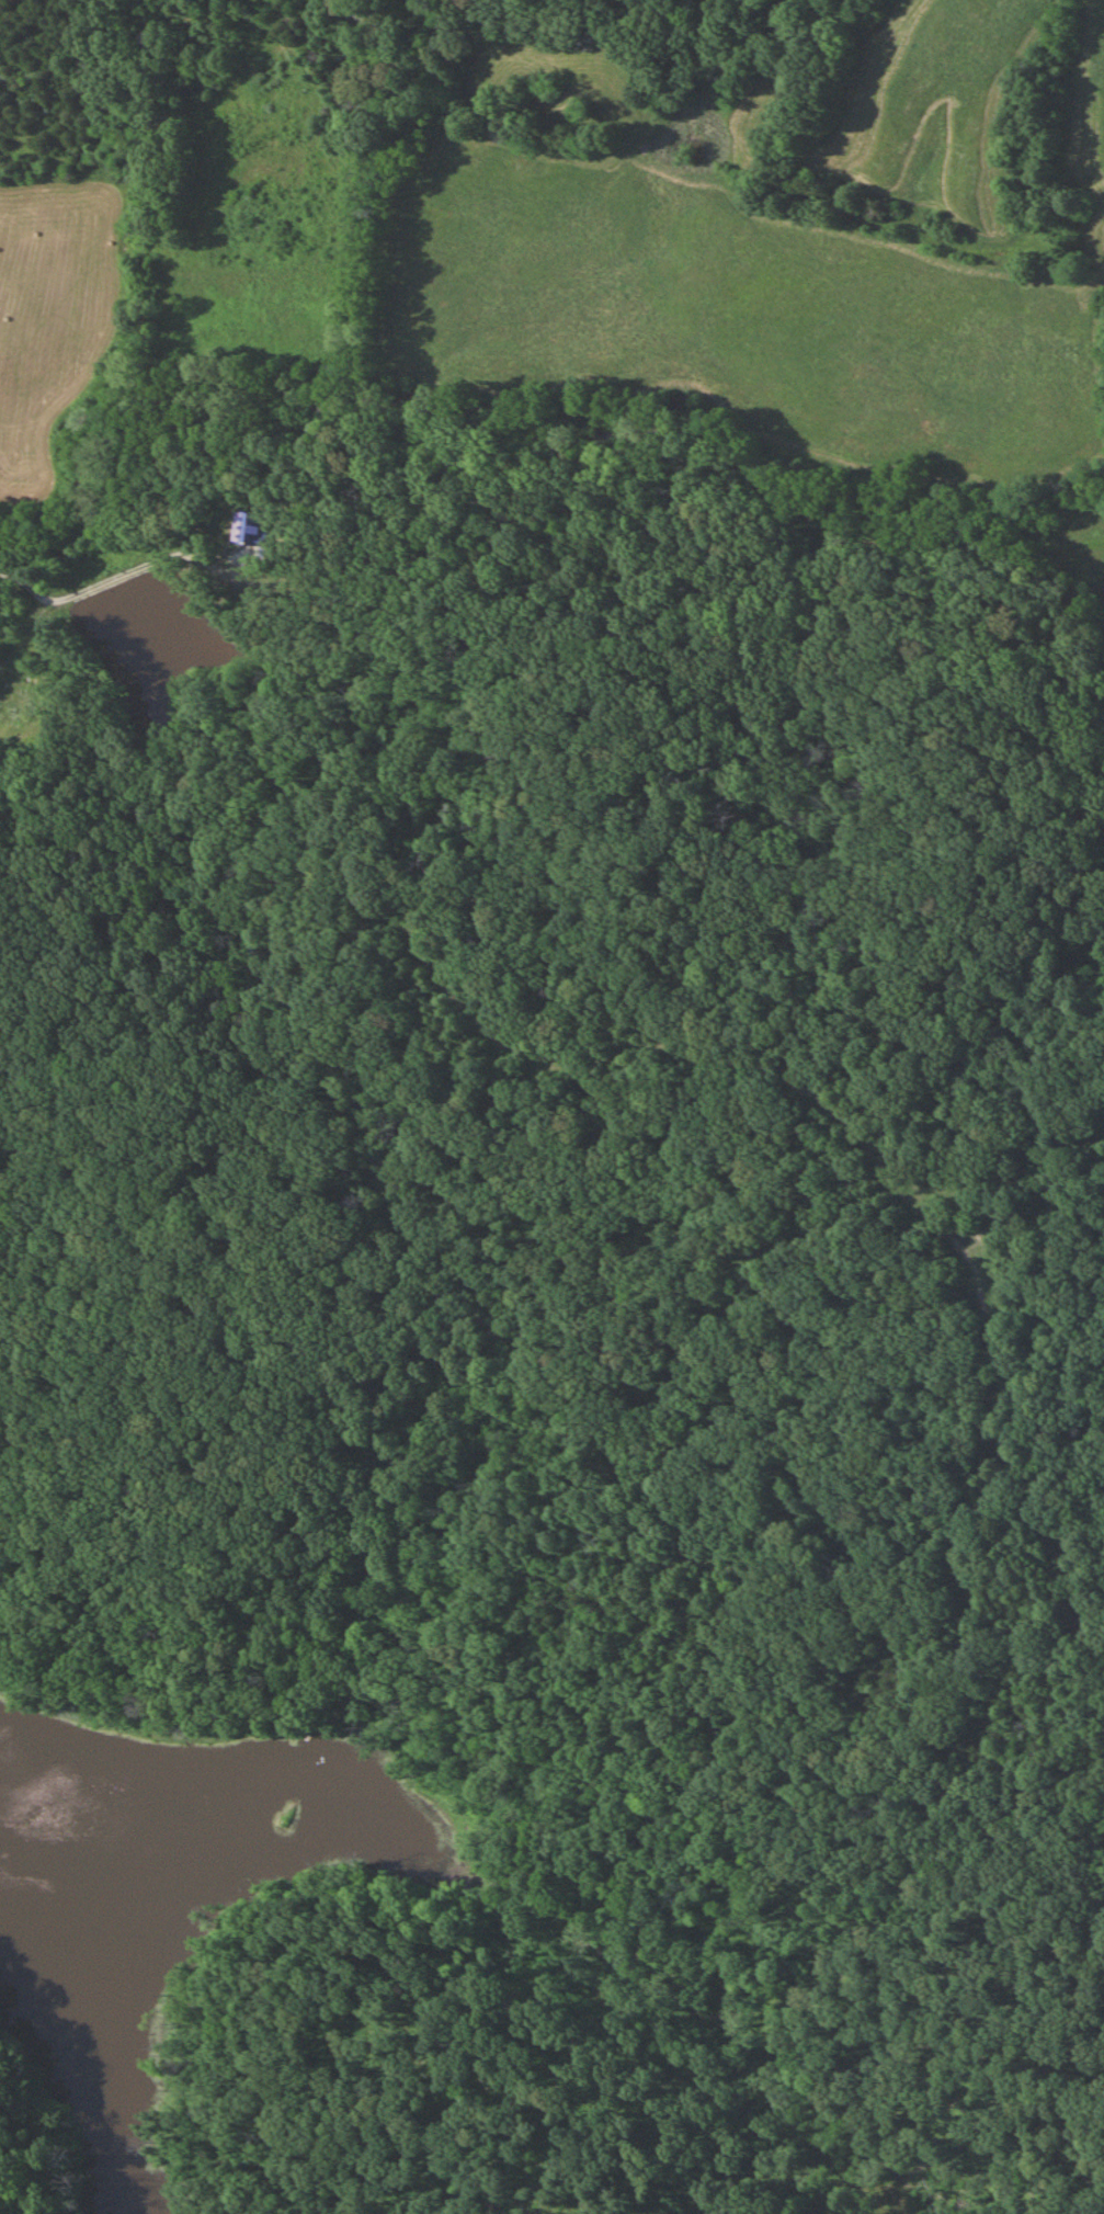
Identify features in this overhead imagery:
building: (252, 527)
road: (93, 594)

